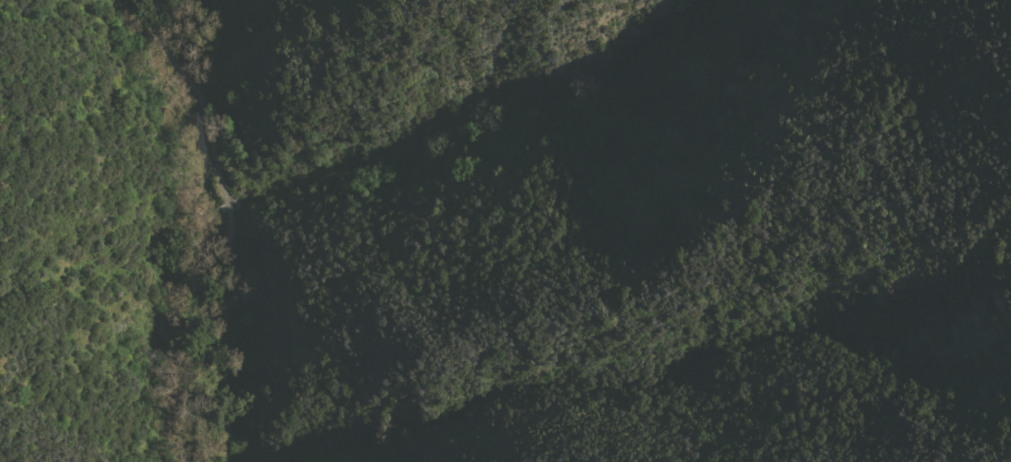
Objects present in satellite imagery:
road: (233, 216)

